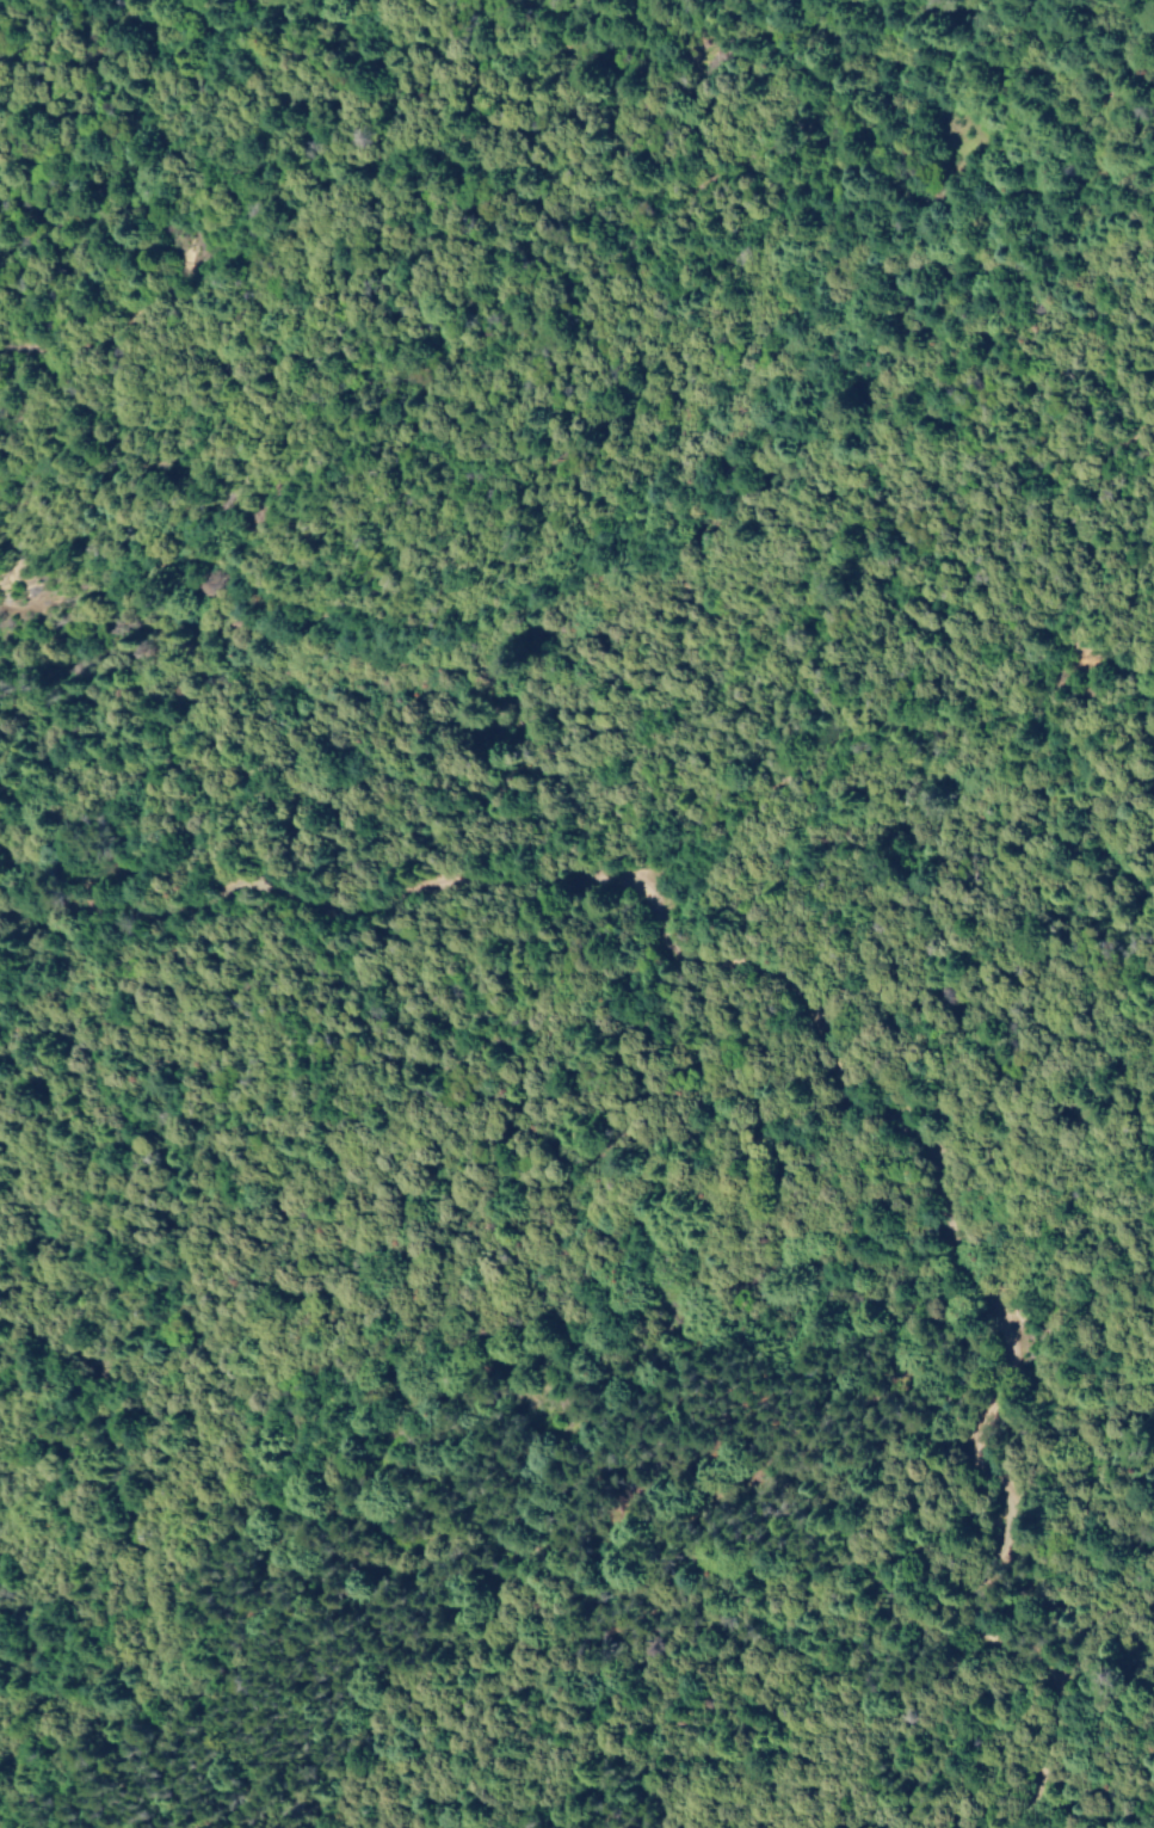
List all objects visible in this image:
road: (832, 1065)

